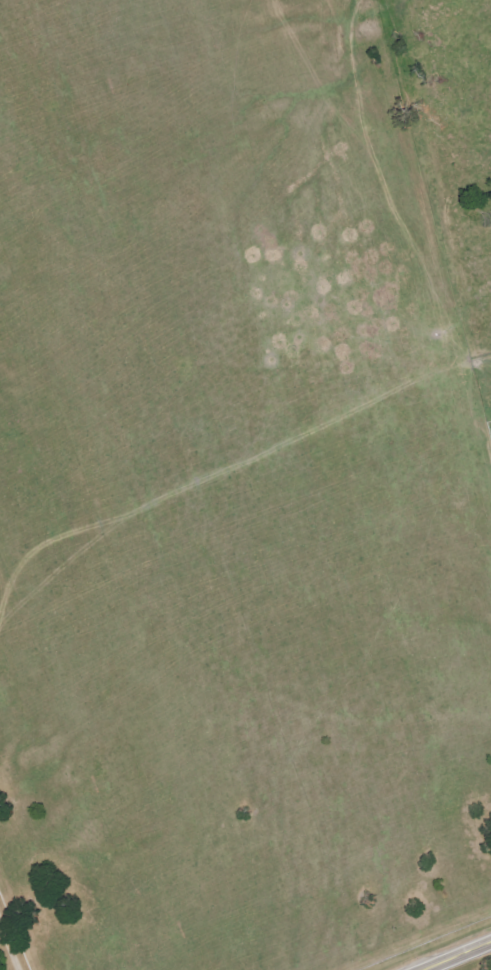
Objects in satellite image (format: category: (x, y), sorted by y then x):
road: (11, 942)
road: (460, 956)

